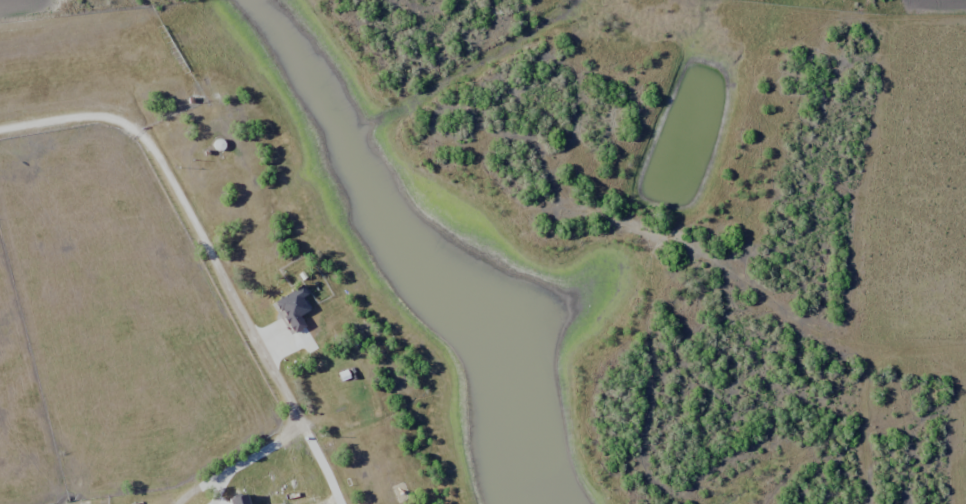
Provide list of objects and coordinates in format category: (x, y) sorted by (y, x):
road: (481, 192)
building: (300, 316)

